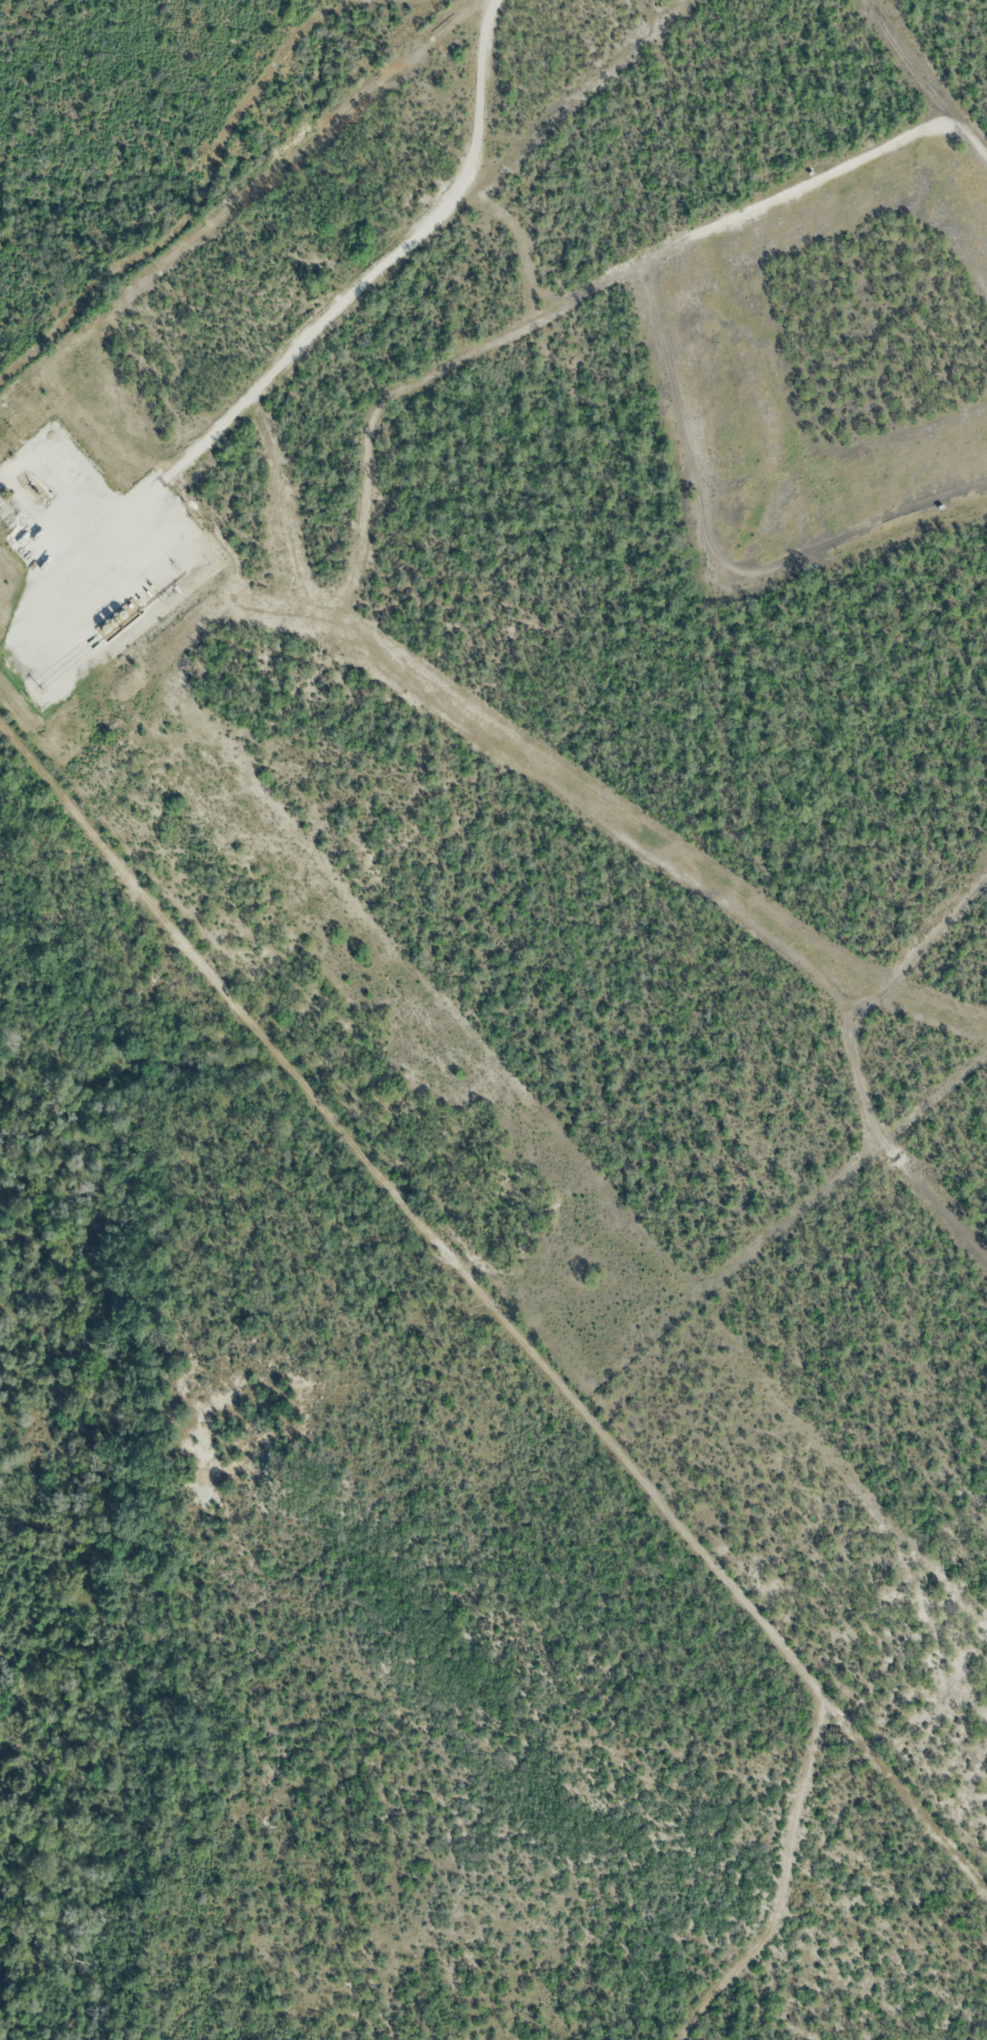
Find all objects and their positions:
road: (281, 357)
river: (68, 1538)

